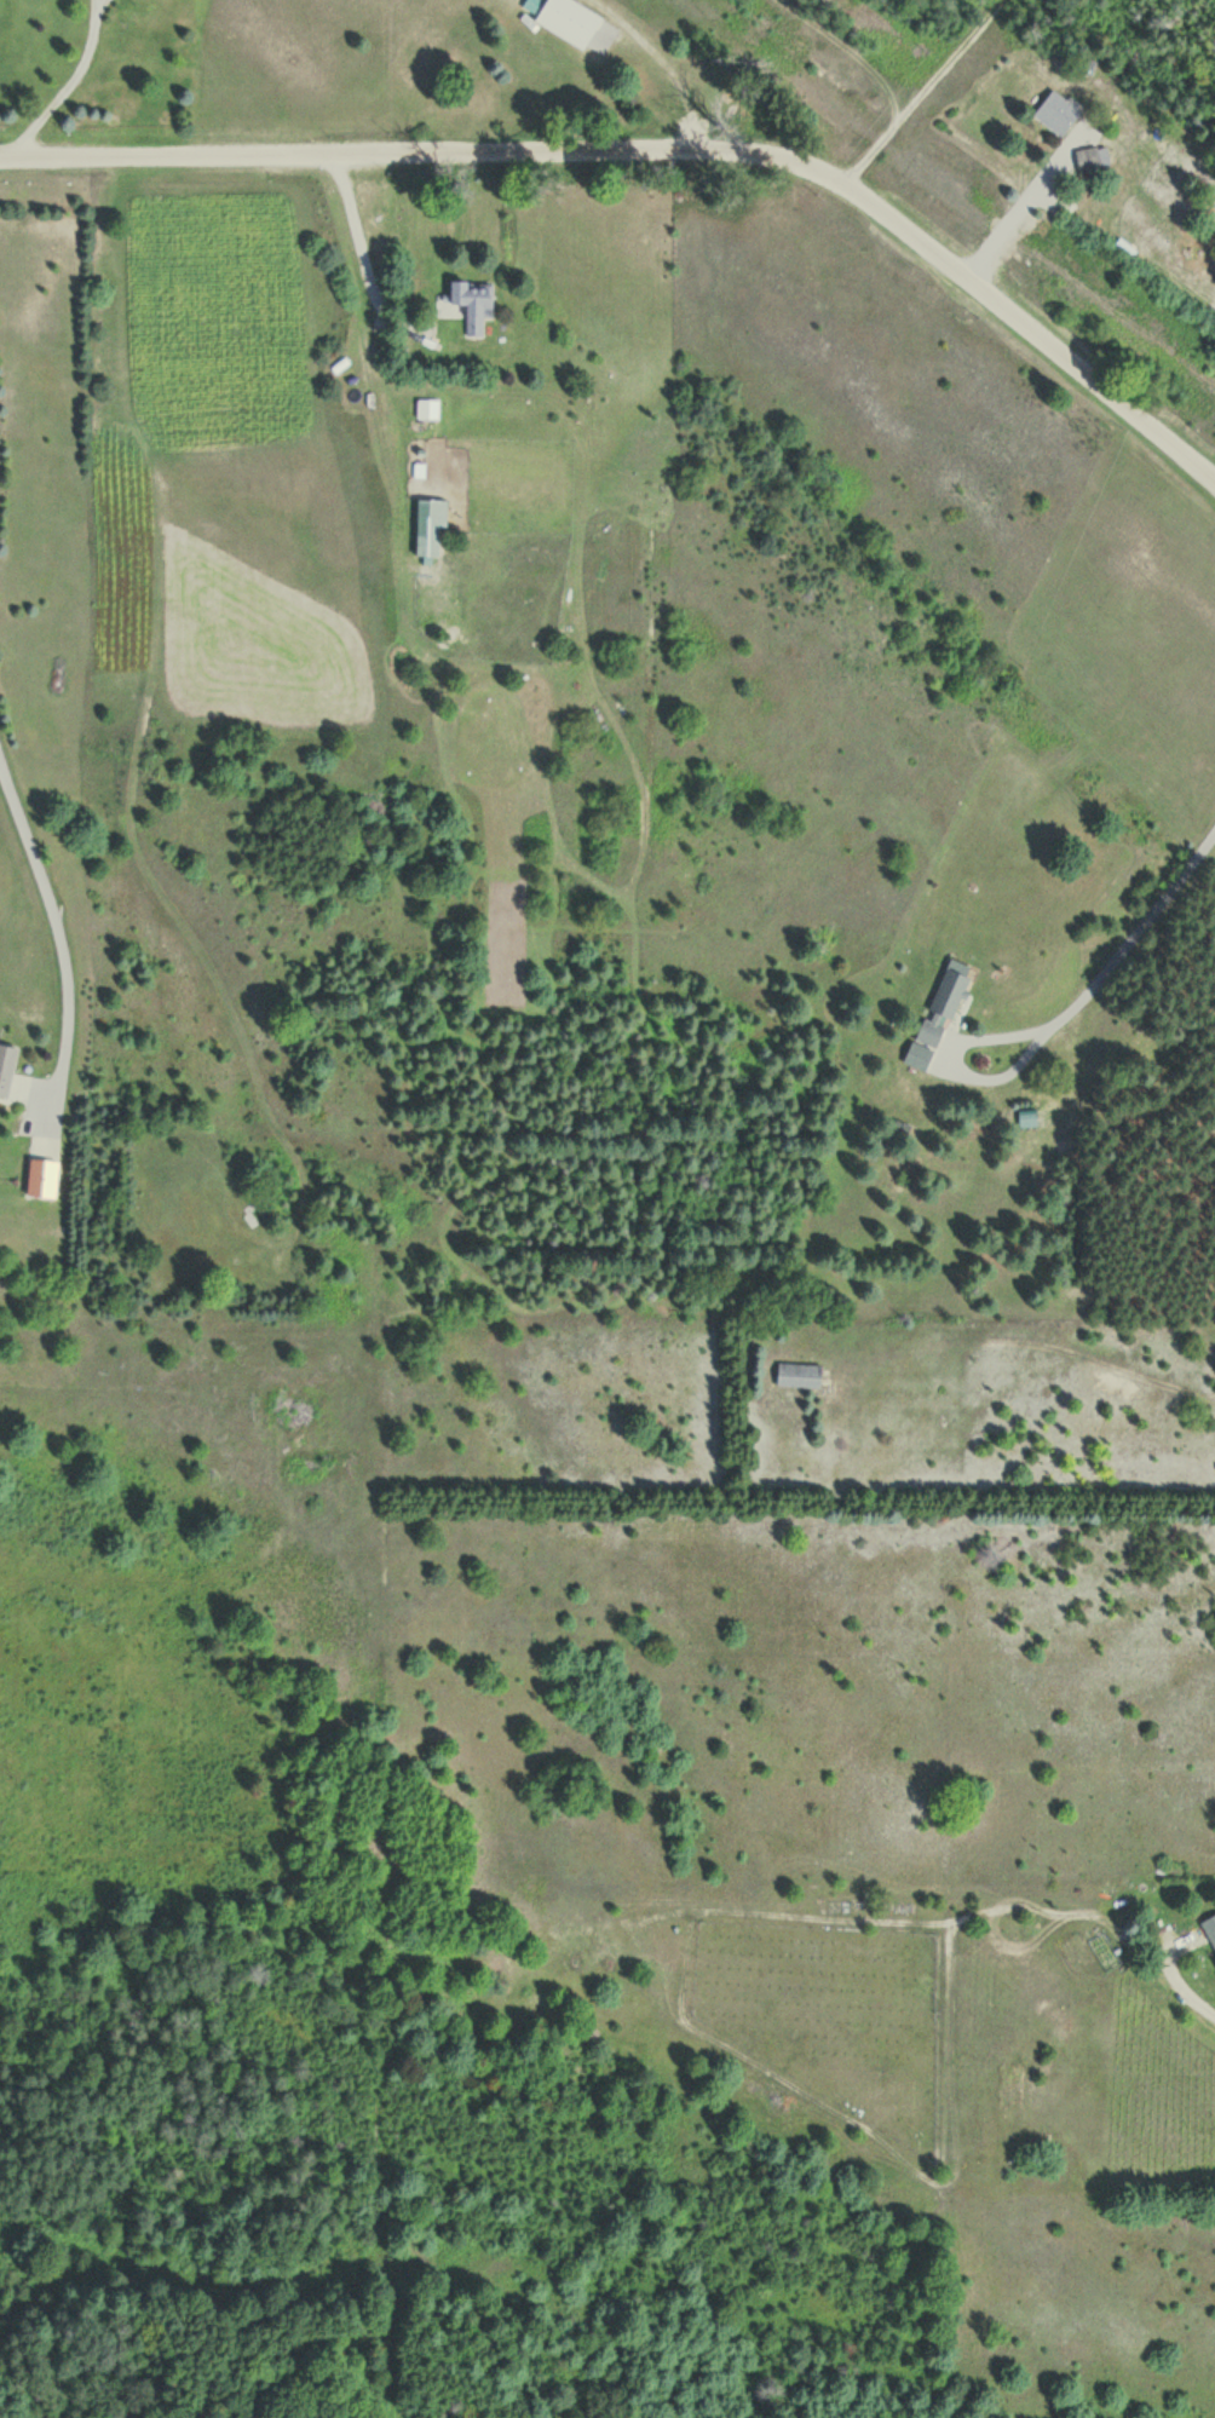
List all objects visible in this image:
building: (569, 22)
road: (927, 93)
building: (1059, 111)
road: (661, 157)
building: (1093, 159)
building: (471, 305)
building: (944, 1006)
building: (920, 1058)
building: (7, 1067)
building: (42, 1178)
building: (253, 1214)
building: (800, 1376)
building: (1209, 1930)

